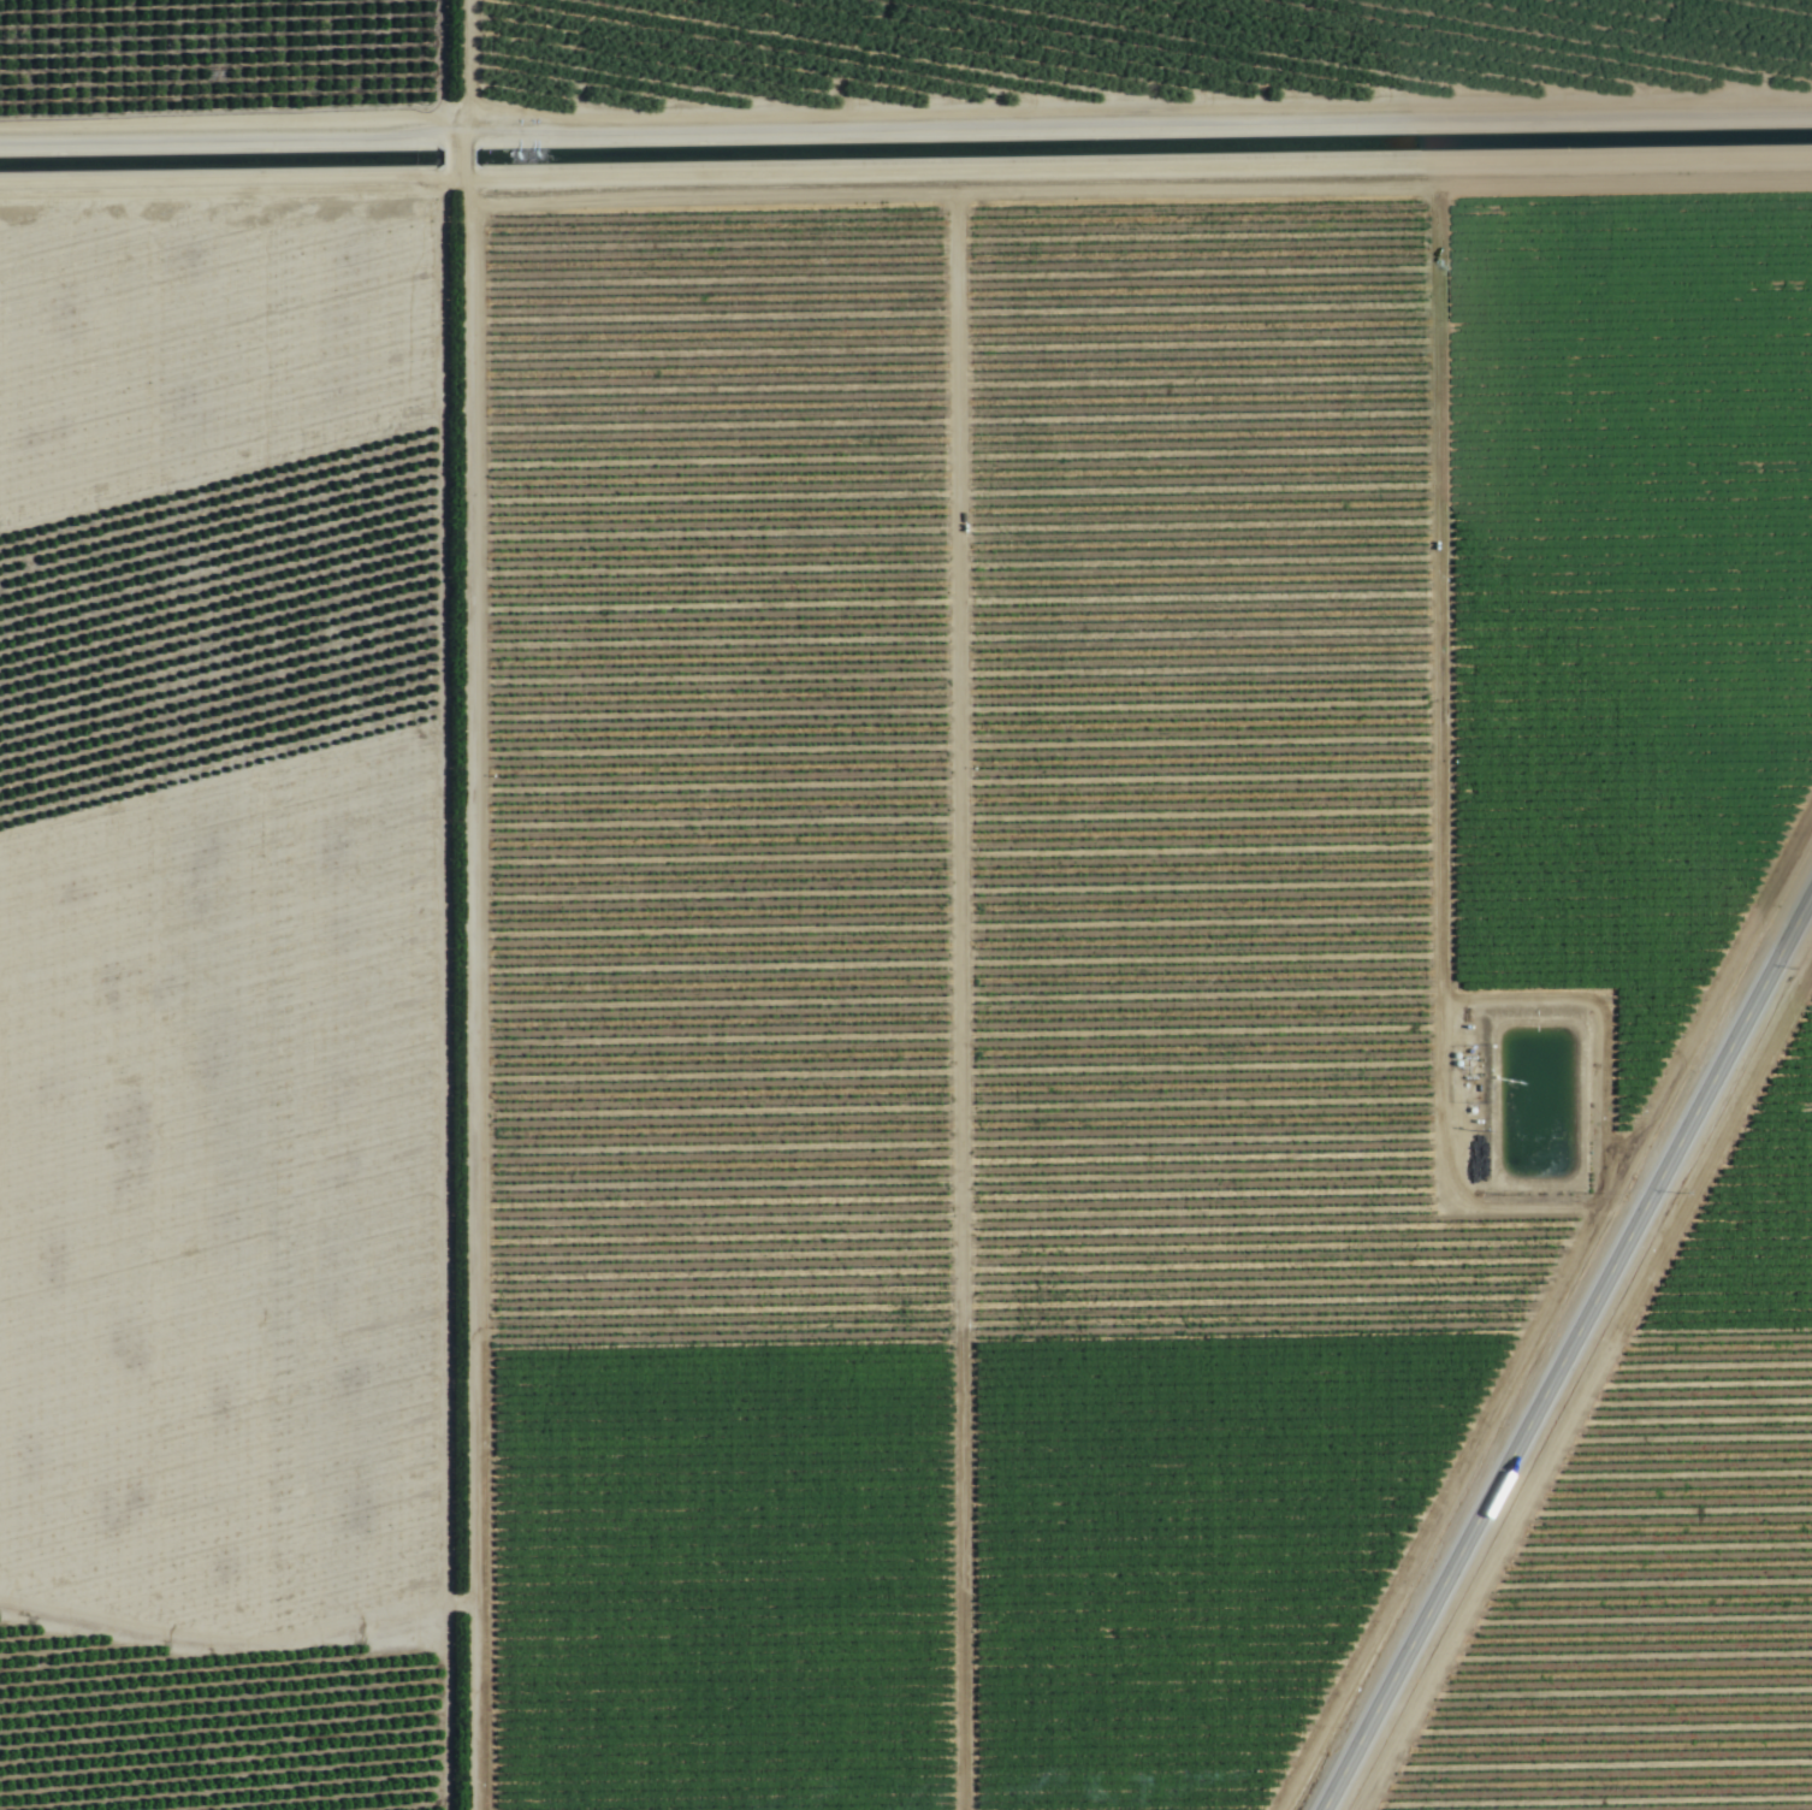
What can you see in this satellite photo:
road: (1799, 1)
building: (166, 312)
road: (461, 905)
crop: (906, 905)
road: (1569, 1355)

